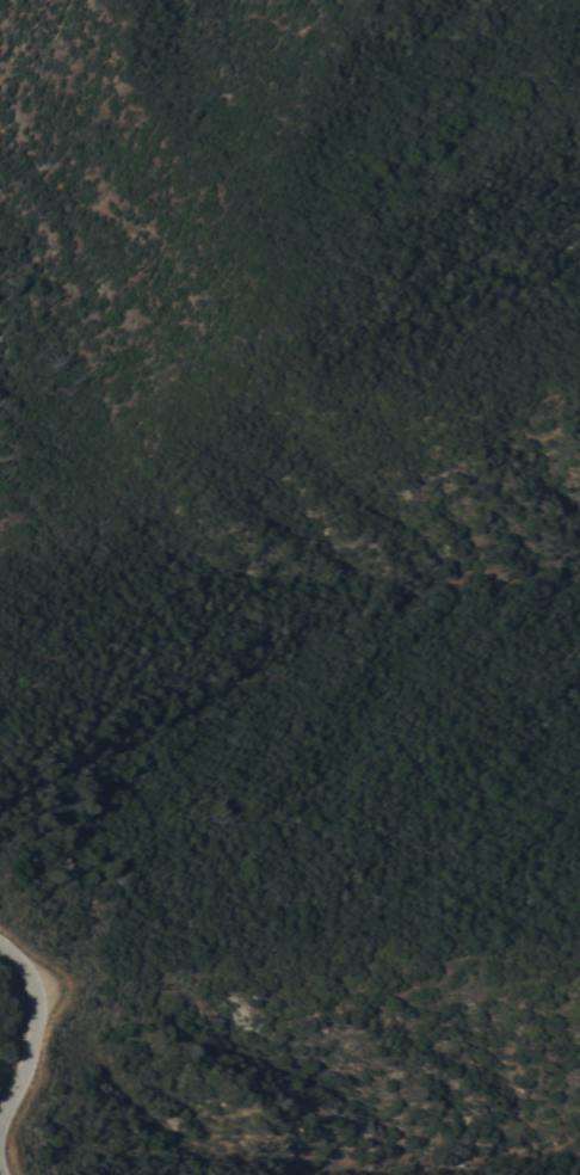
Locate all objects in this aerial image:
road: (31, 1045)
road: (2, 1167)

